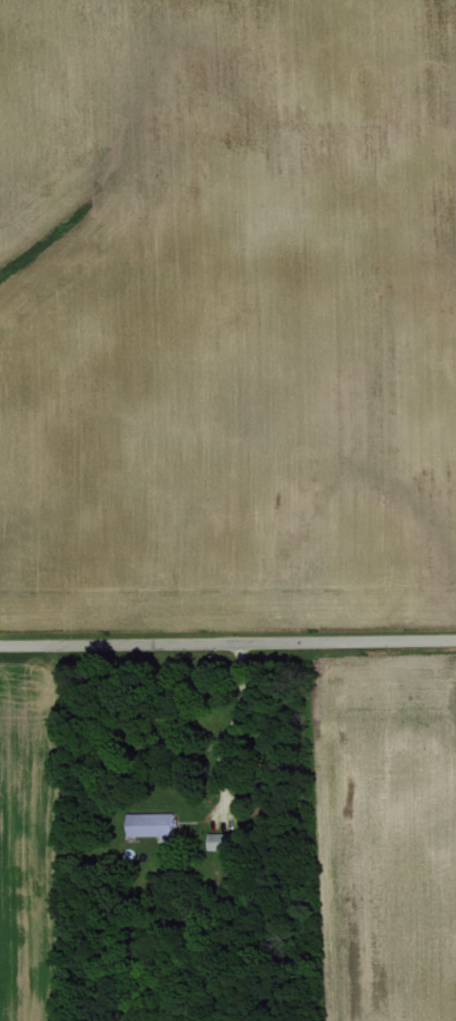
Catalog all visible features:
road: (227, 642)
road: (233, 743)
building: (149, 824)
building: (217, 840)

